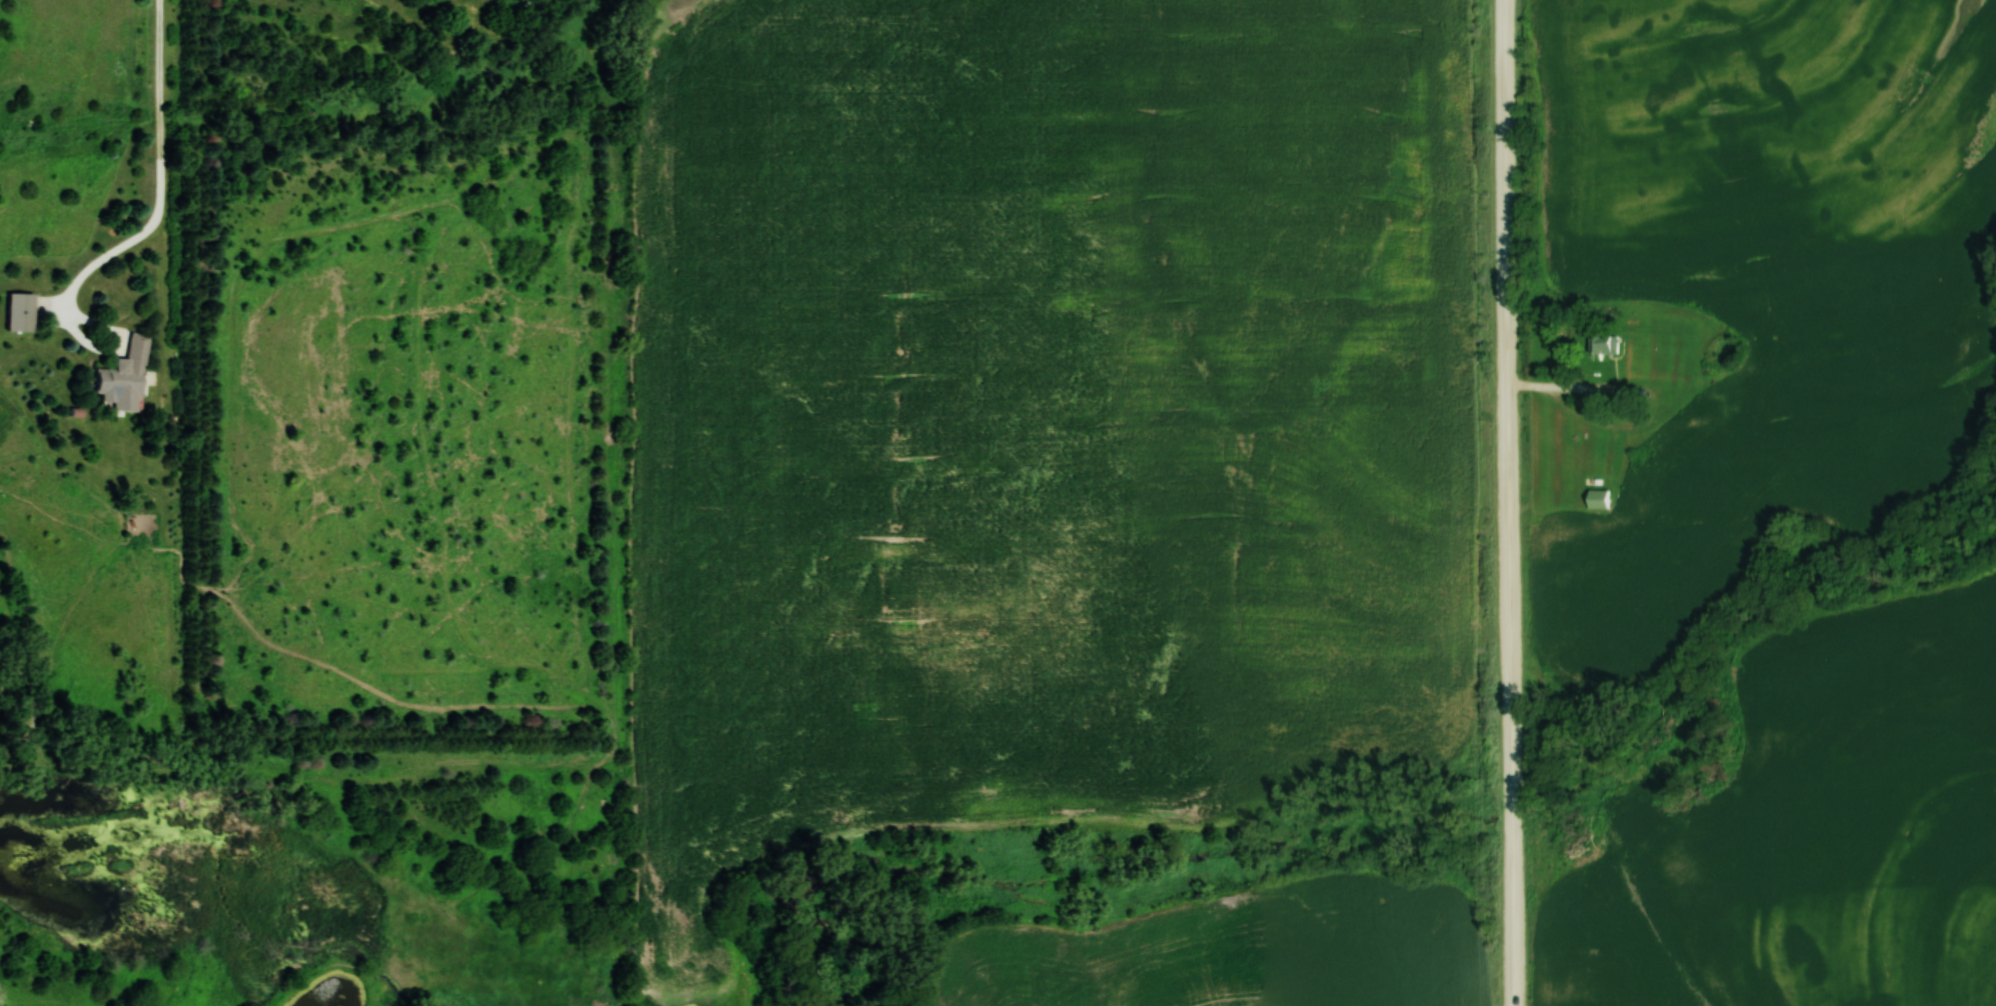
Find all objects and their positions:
building: (23, 311)
building: (1601, 345)
building: (128, 369)
building: (1597, 499)
road: (1508, 503)

